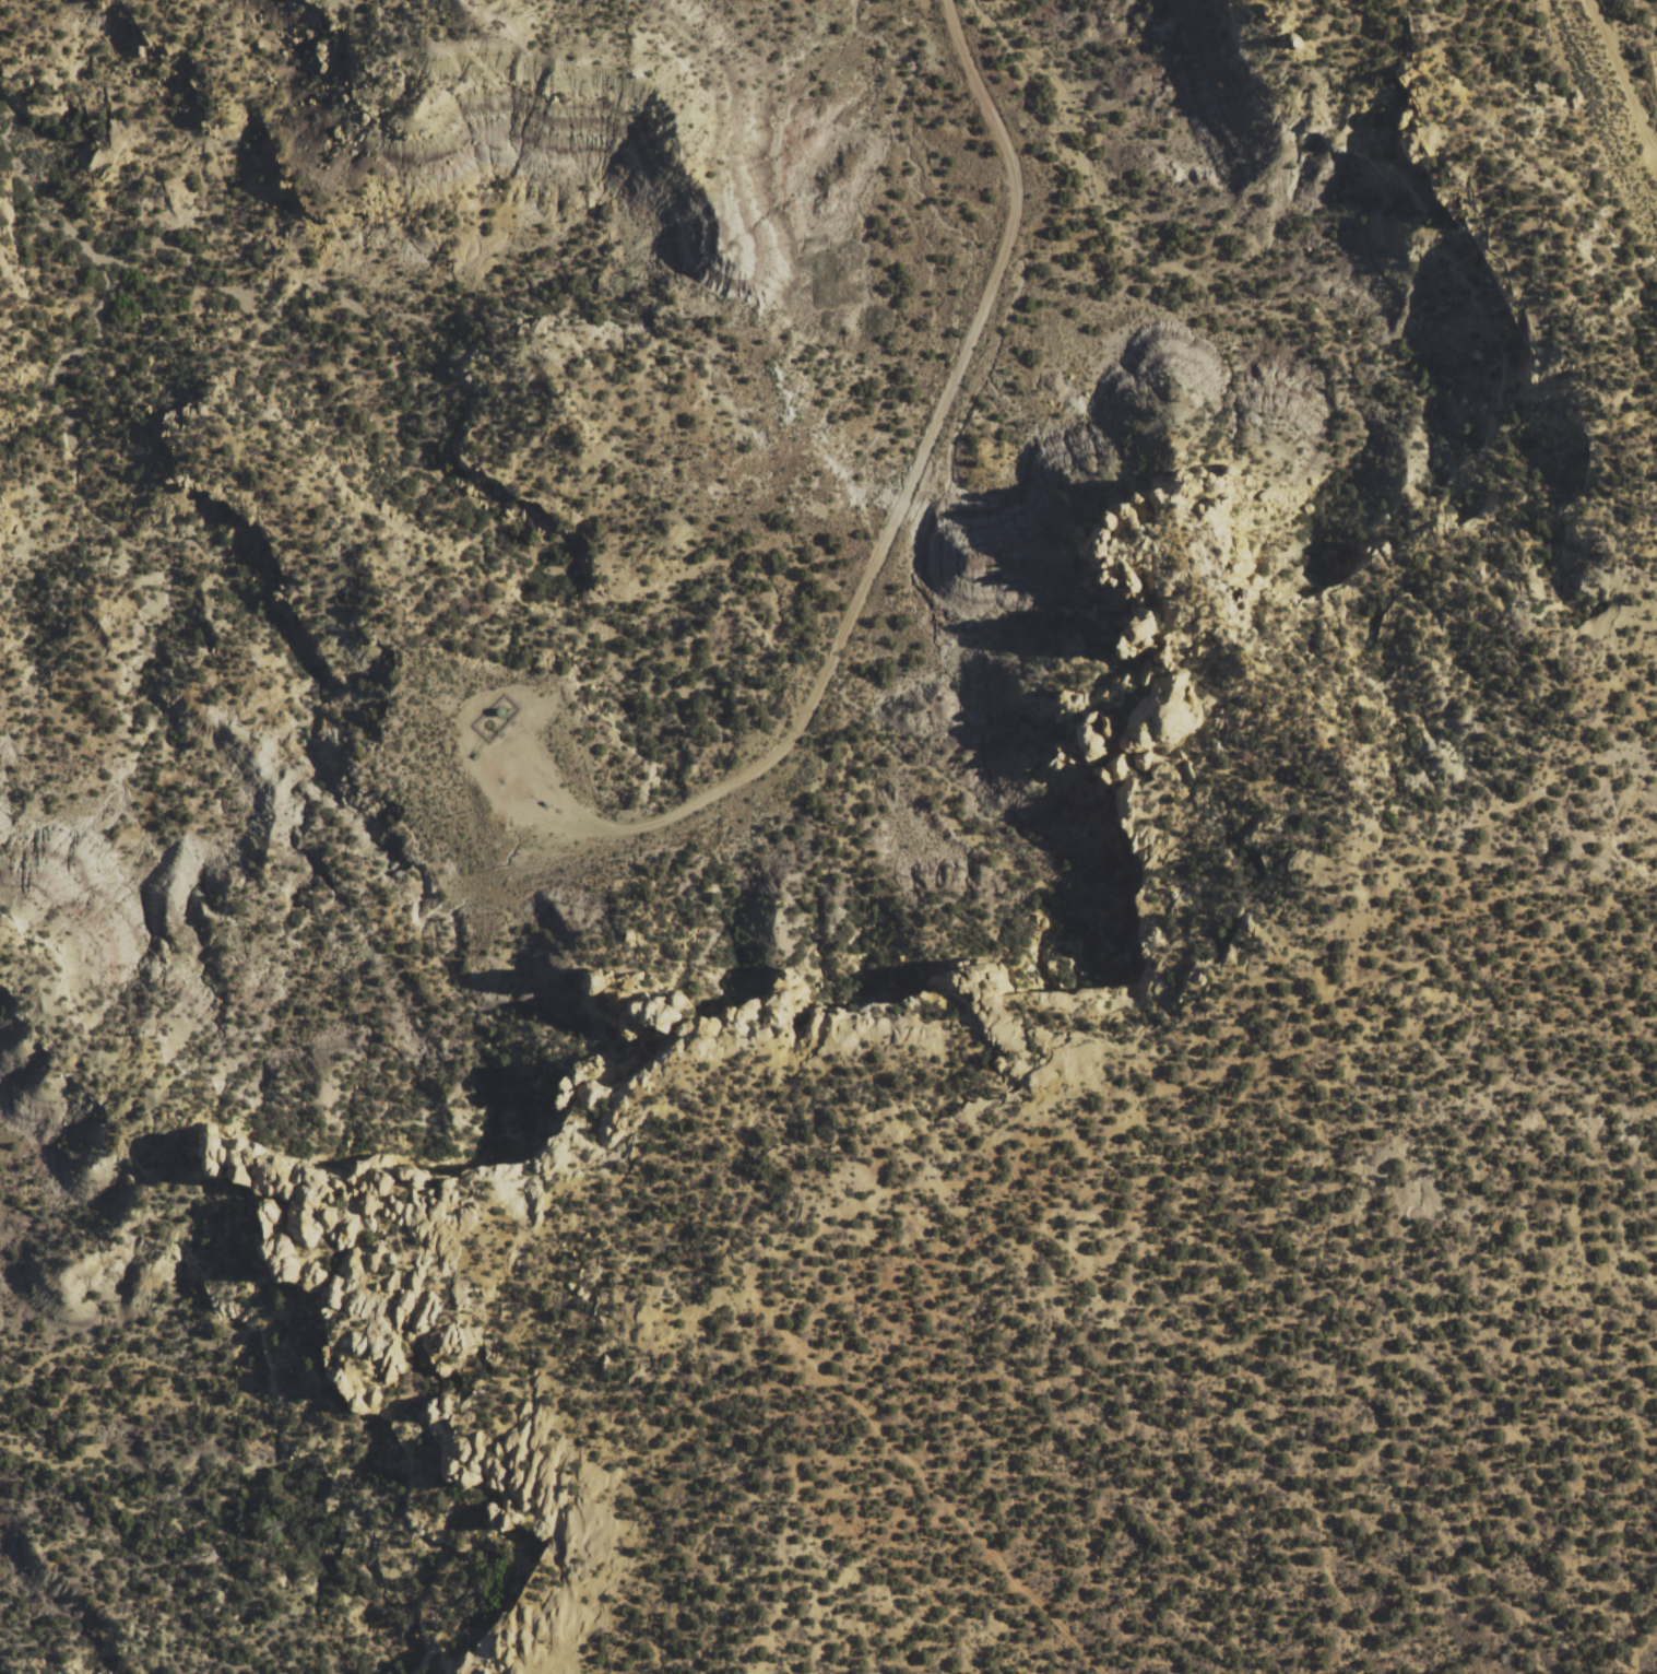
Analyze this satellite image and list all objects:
road: (1591, 149)

